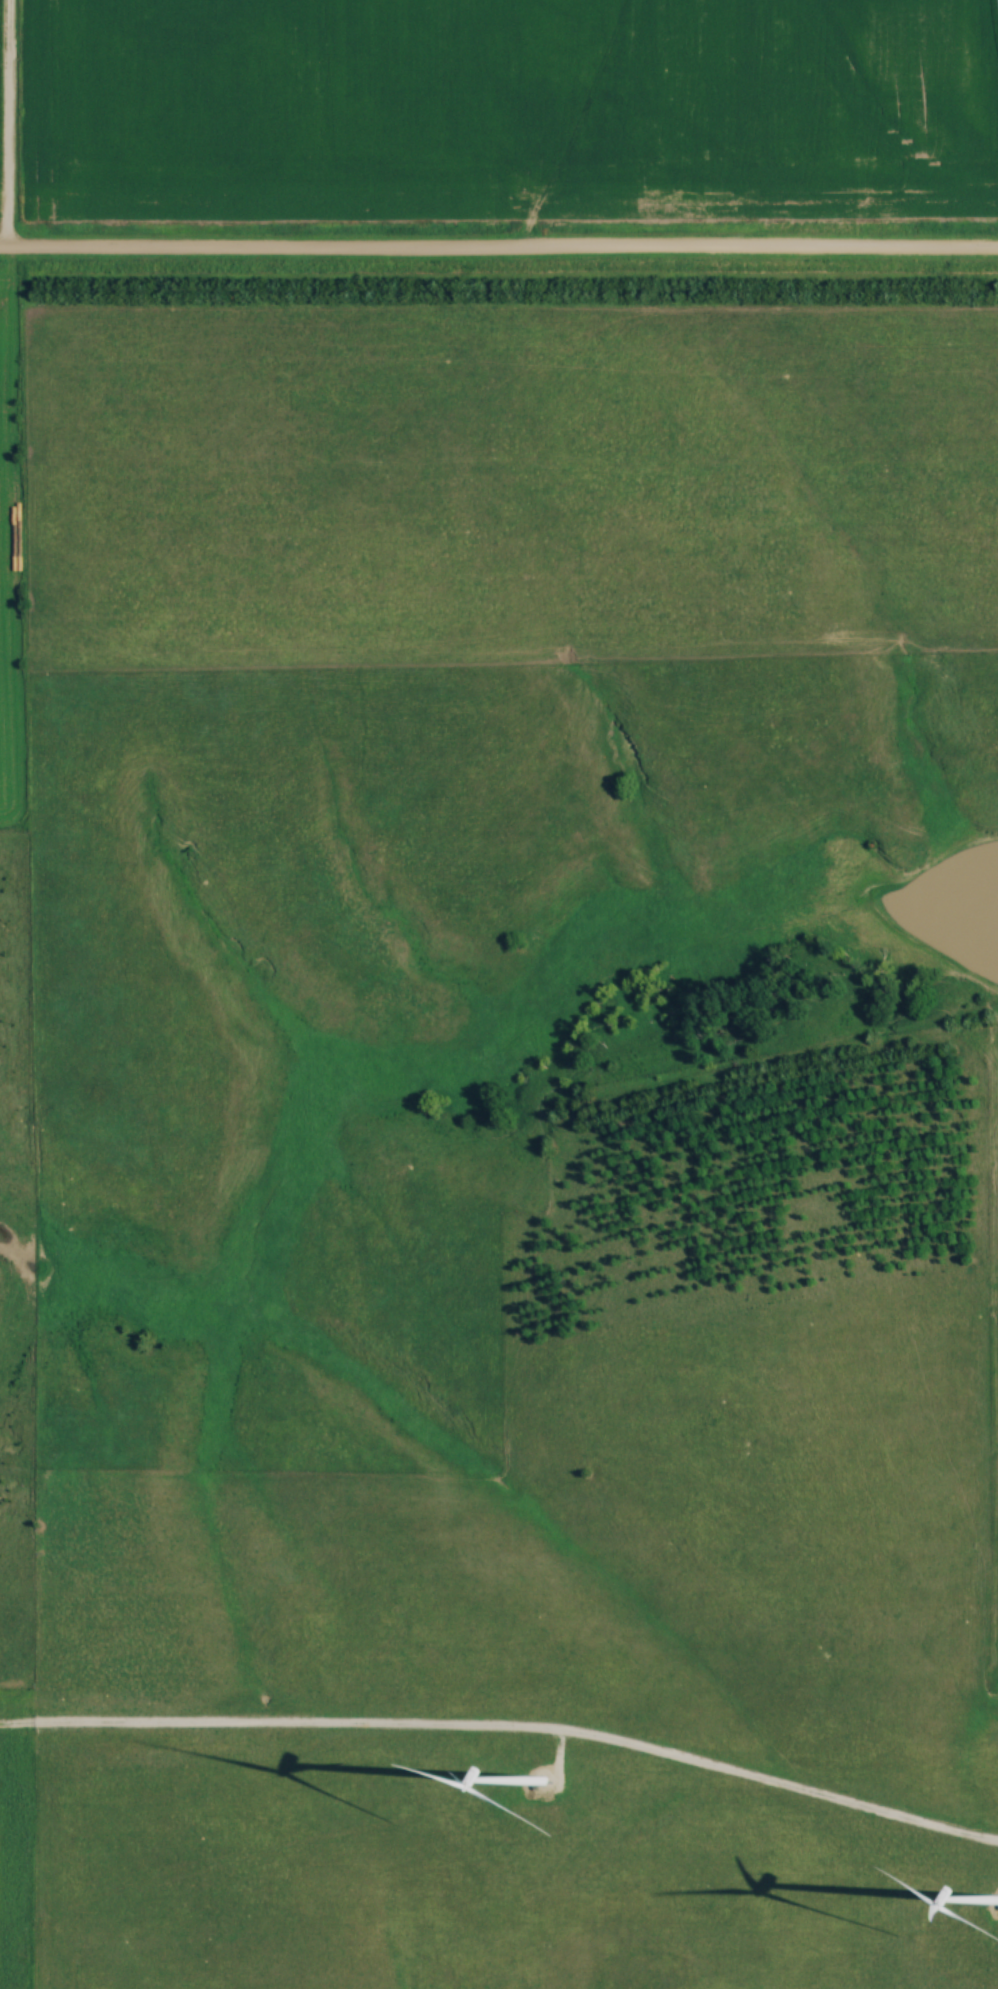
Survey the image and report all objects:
road: (8, 122)
road: (499, 248)
road: (506, 1724)
road: (559, 1751)
wind turbine: (543, 1779)

